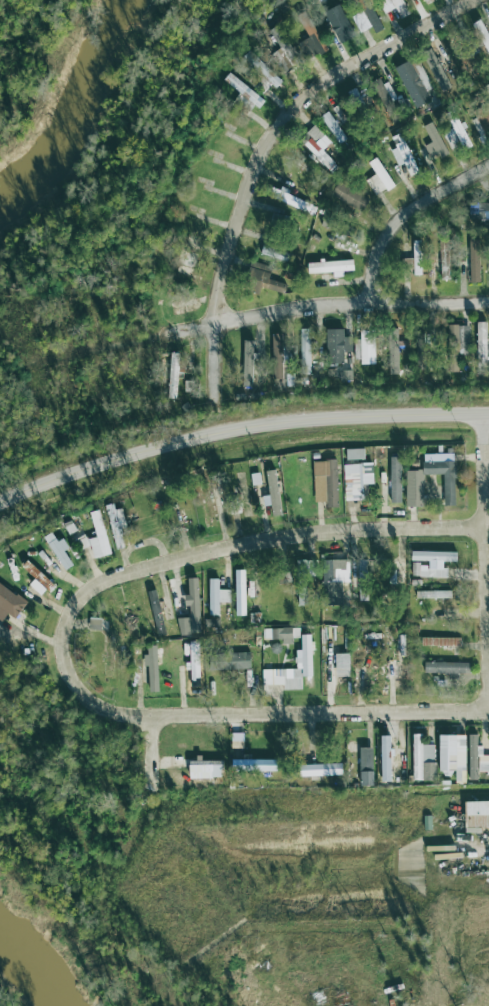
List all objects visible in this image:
building: (336, 23)
building: (310, 44)
park: (38, 65)
building: (241, 91)
river: (79, 112)
building: (331, 127)
building: (313, 147)
building: (432, 147)
road: (263, 149)
road: (406, 216)
building: (327, 267)
building: (471, 268)
road: (263, 313)
building: (453, 347)
road: (238, 429)
building: (351, 456)
building: (252, 479)
building: (353, 479)
building: (322, 482)
building: (411, 490)
building: (270, 493)
road: (285, 535)
building: (96, 537)
building: (55, 550)
road: (483, 563)
building: (36, 582)
building: (431, 594)
building: (8, 604)
building: (193, 615)
building: (437, 642)
building: (234, 661)
building: (443, 667)
building: (288, 668)
road: (220, 714)
road: (147, 749)
building: (449, 756)
building: (419, 759)
building: (482, 763)
building: (363, 766)
building: (315, 770)
building: (474, 816)
river: (39, 967)

